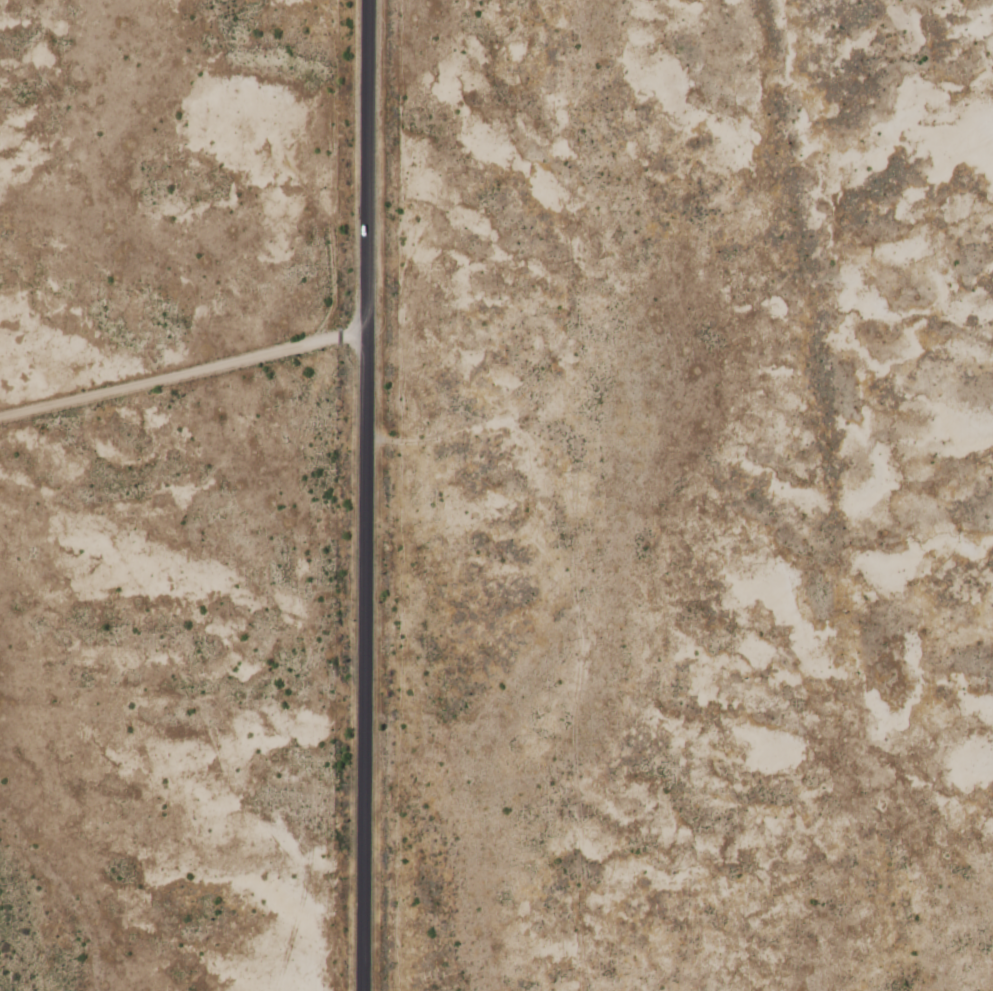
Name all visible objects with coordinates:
road: (183, 373)
road: (364, 495)

